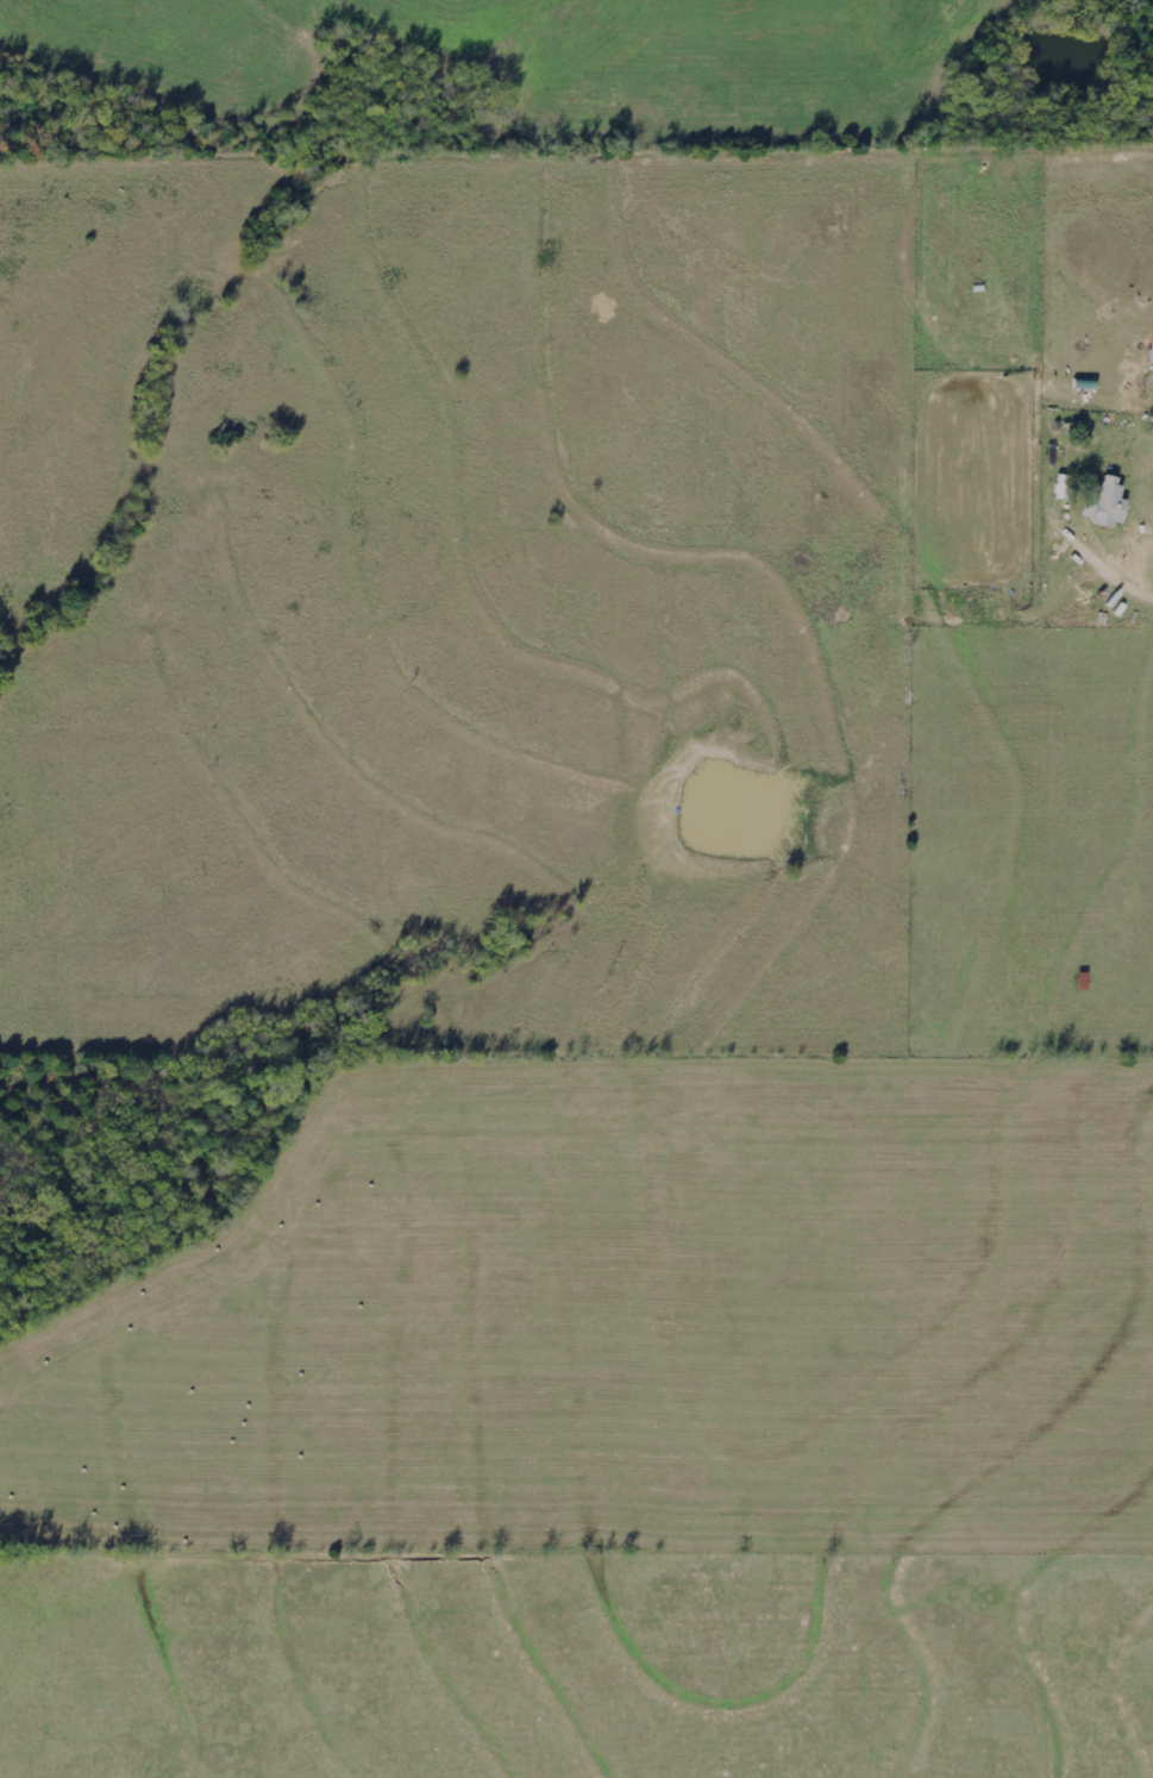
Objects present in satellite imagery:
building: (1103, 503)
road: (1136, 582)

